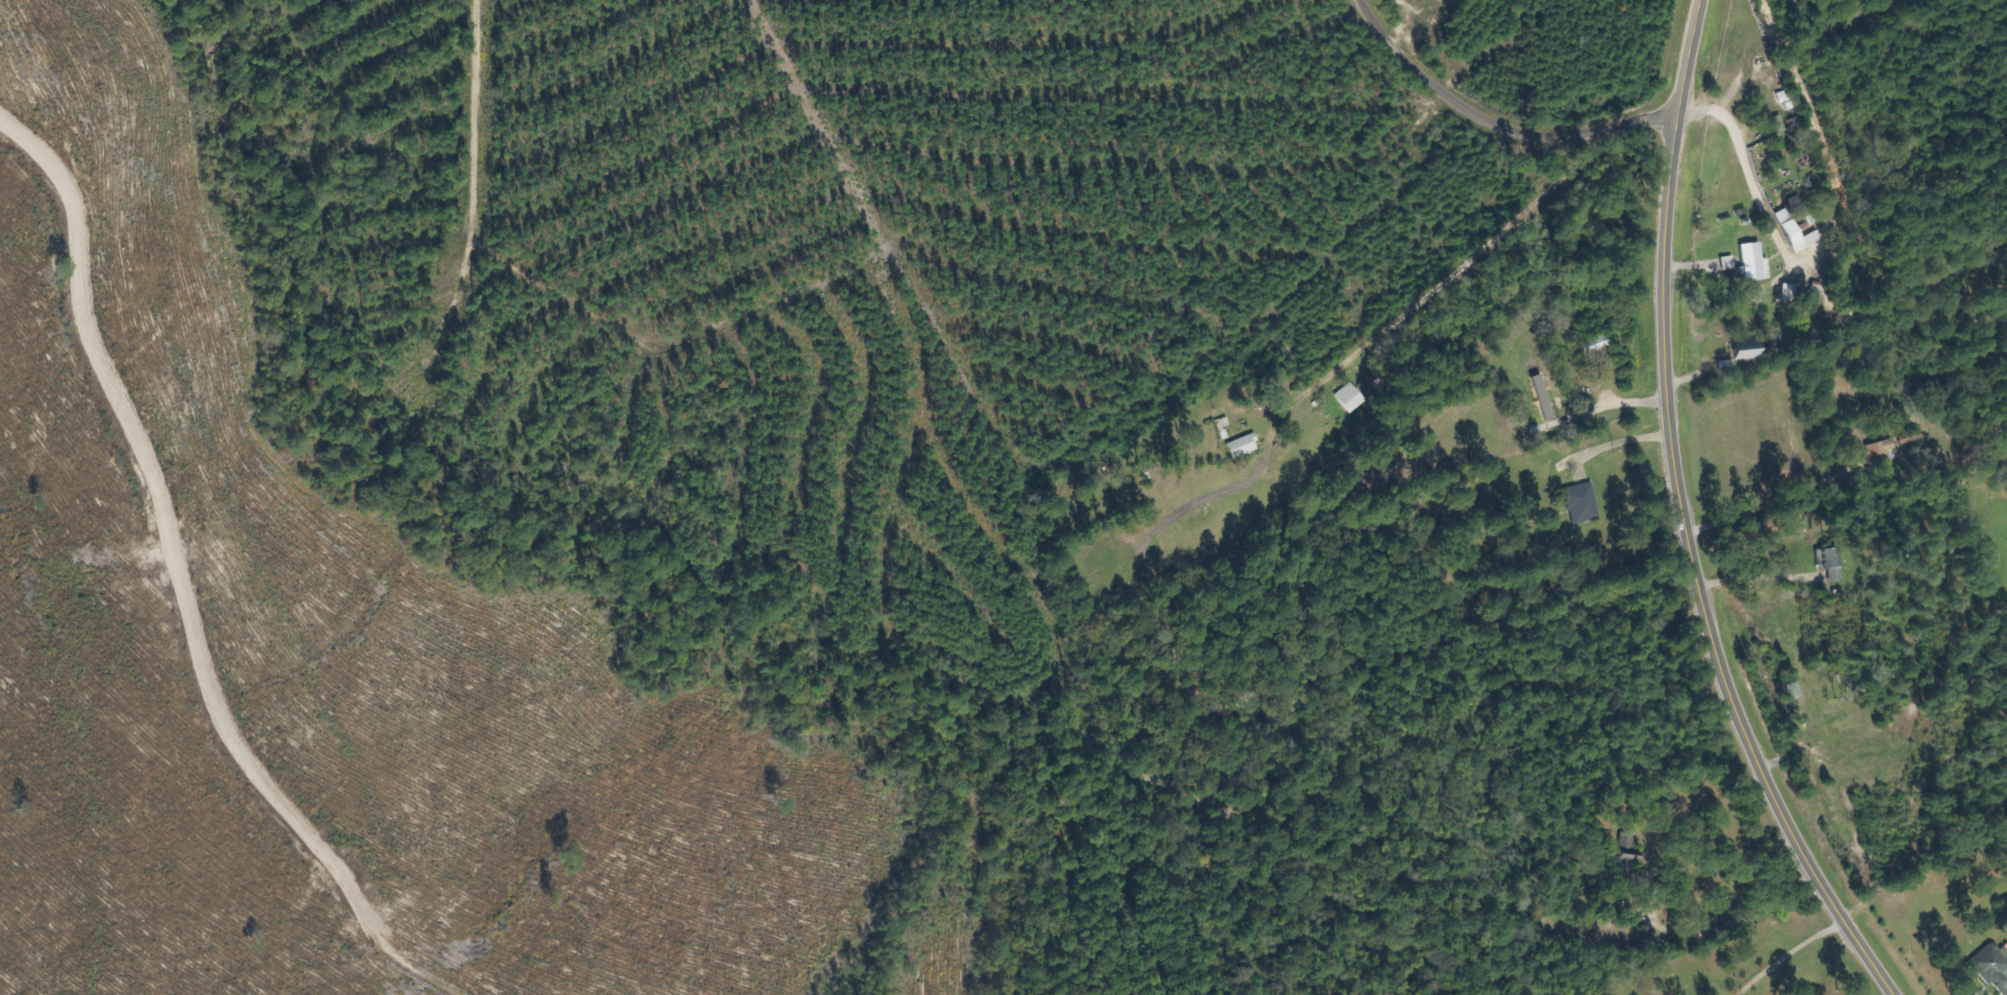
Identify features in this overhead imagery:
road: (488, 116)
road: (1494, 126)
building: (1797, 233)
road: (1474, 259)
building: (1755, 263)
building: (1749, 350)
building: (1350, 398)
building: (1243, 446)
building: (1880, 452)
building: (1582, 503)
road: (163, 518)
road: (1681, 520)
building: (1831, 563)
building: (1795, 690)
building: (1993, 967)

